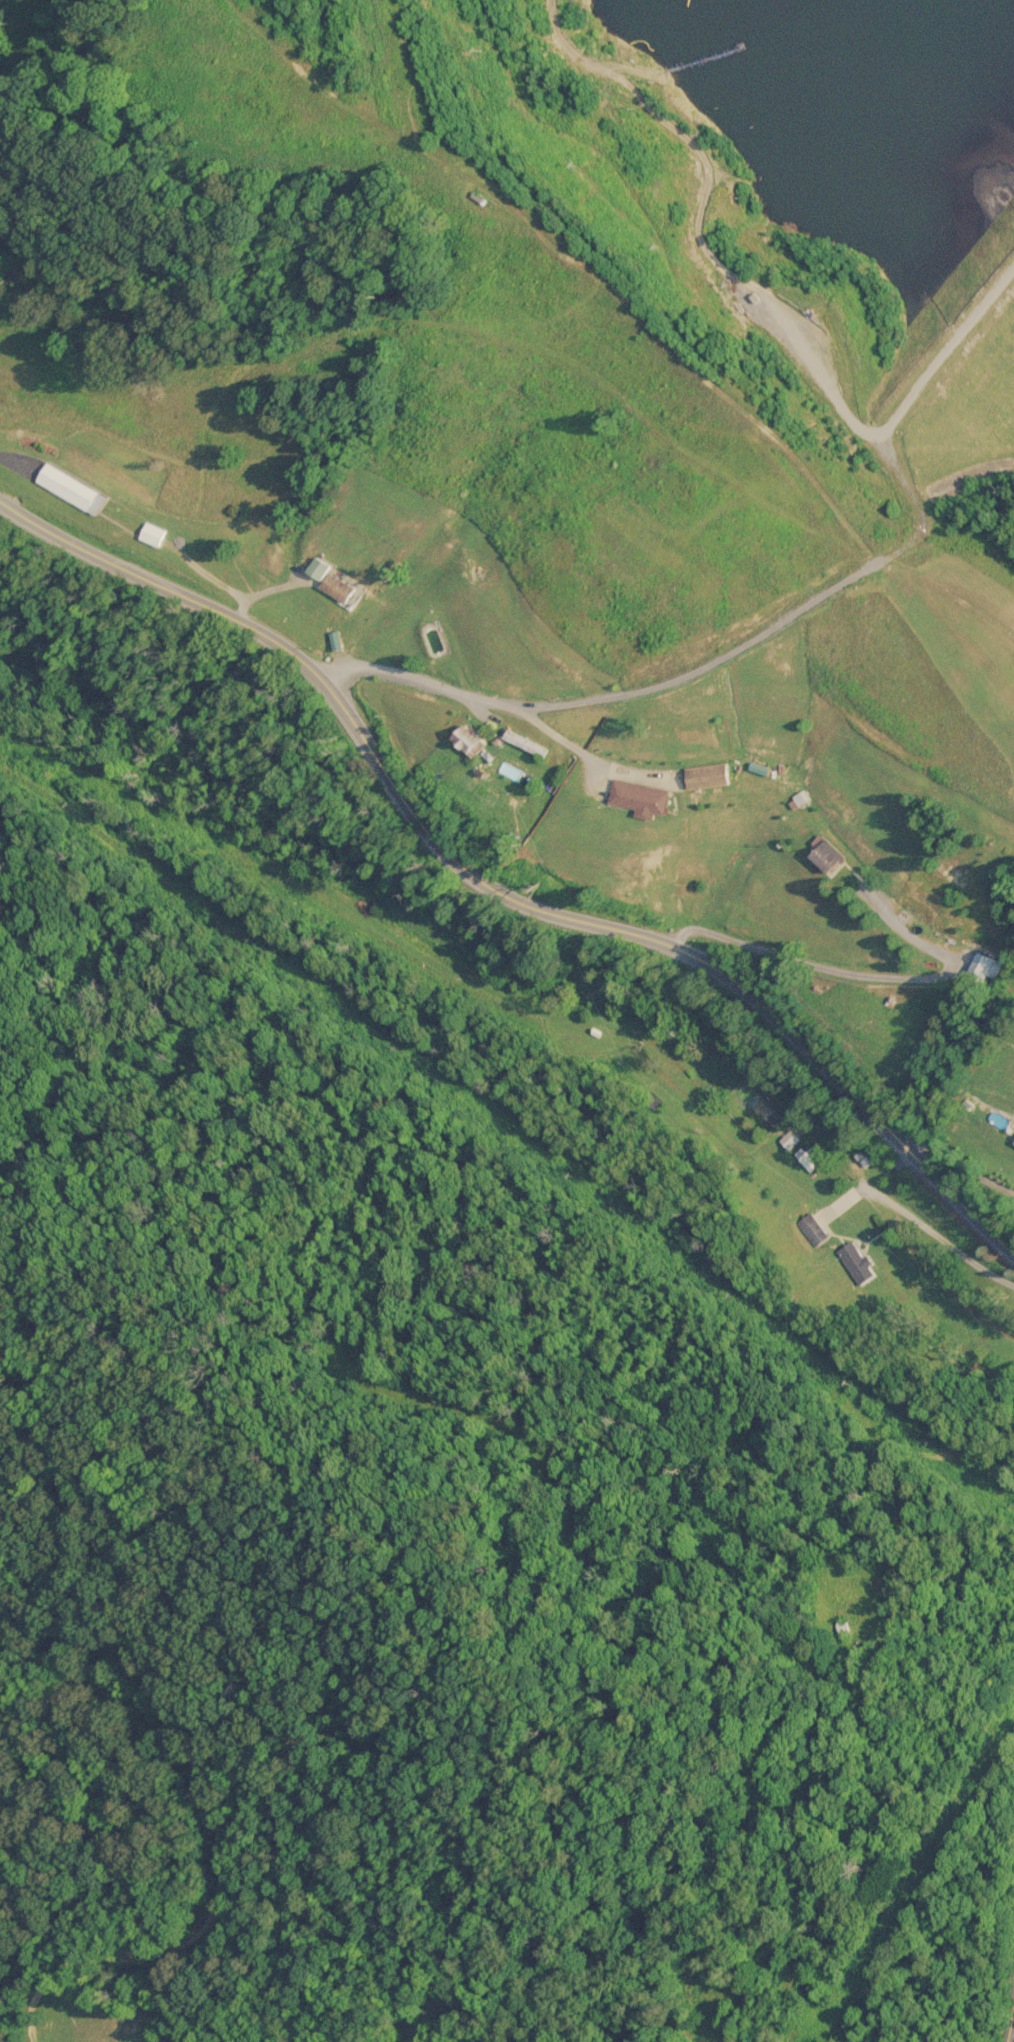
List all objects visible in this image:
road: (943, 375)
road: (15, 462)
building: (73, 487)
road: (914, 516)
building: (154, 532)
building: (335, 578)
road: (561, 738)
building: (710, 774)
building: (643, 797)
building: (830, 853)
road: (498, 883)
road: (850, 967)
building: (808, 1157)
road: (962, 1161)
road: (918, 1226)
building: (856, 1261)
building: (844, 1626)
road: (1013, 2036)

